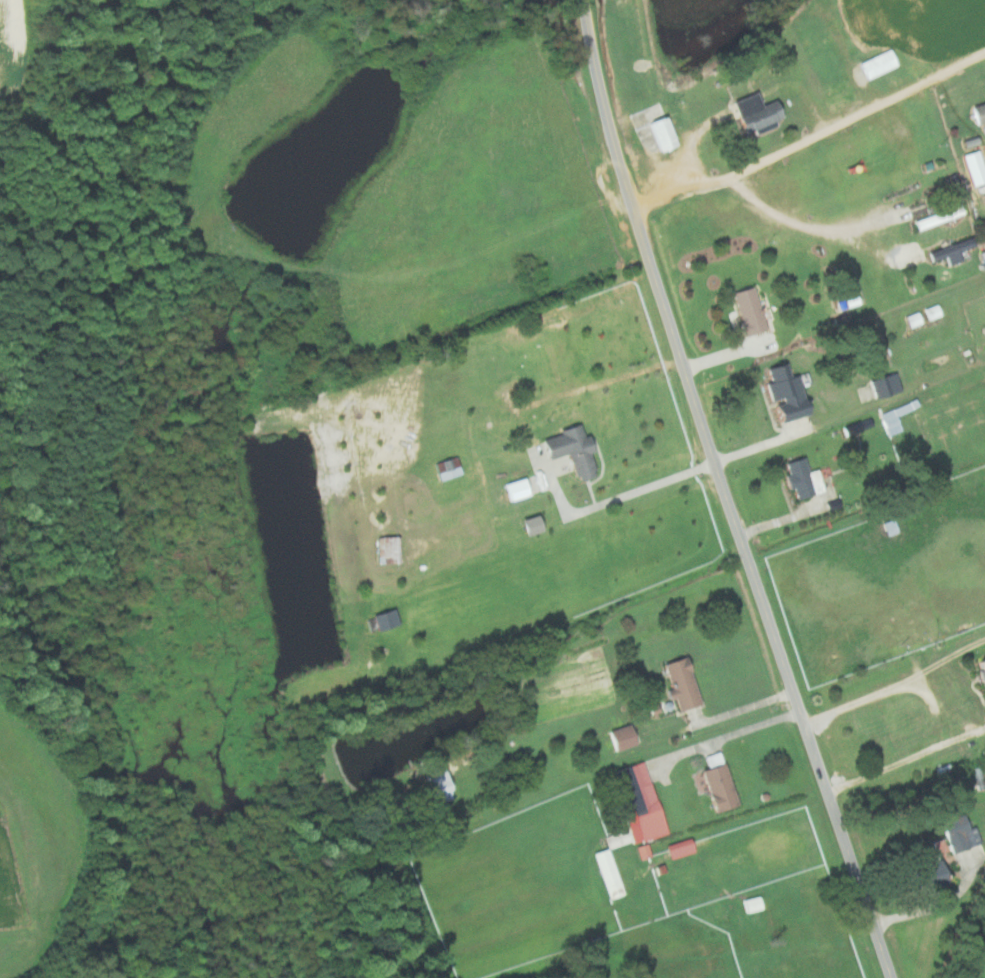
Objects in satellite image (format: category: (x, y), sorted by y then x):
building: (978, 112)
building: (754, 113)
road: (812, 141)
building: (977, 167)
road: (784, 218)
building: (949, 251)
building: (746, 310)
building: (932, 312)
building: (913, 319)
building: (883, 385)
building: (784, 393)
building: (895, 416)
road: (760, 443)
building: (569, 450)
building: (446, 467)
building: (801, 478)
road: (654, 485)
road: (723, 492)
building: (386, 550)
building: (384, 619)
building: (981, 670)
building: (680, 683)
road: (893, 684)
road: (751, 727)
building: (620, 737)
road: (904, 757)
building: (437, 785)
building: (717, 787)
building: (638, 802)
building: (958, 833)
building: (617, 838)
building: (941, 845)
building: (678, 848)
building: (608, 873)
building: (927, 874)
road: (933, 902)
building: (752, 904)

